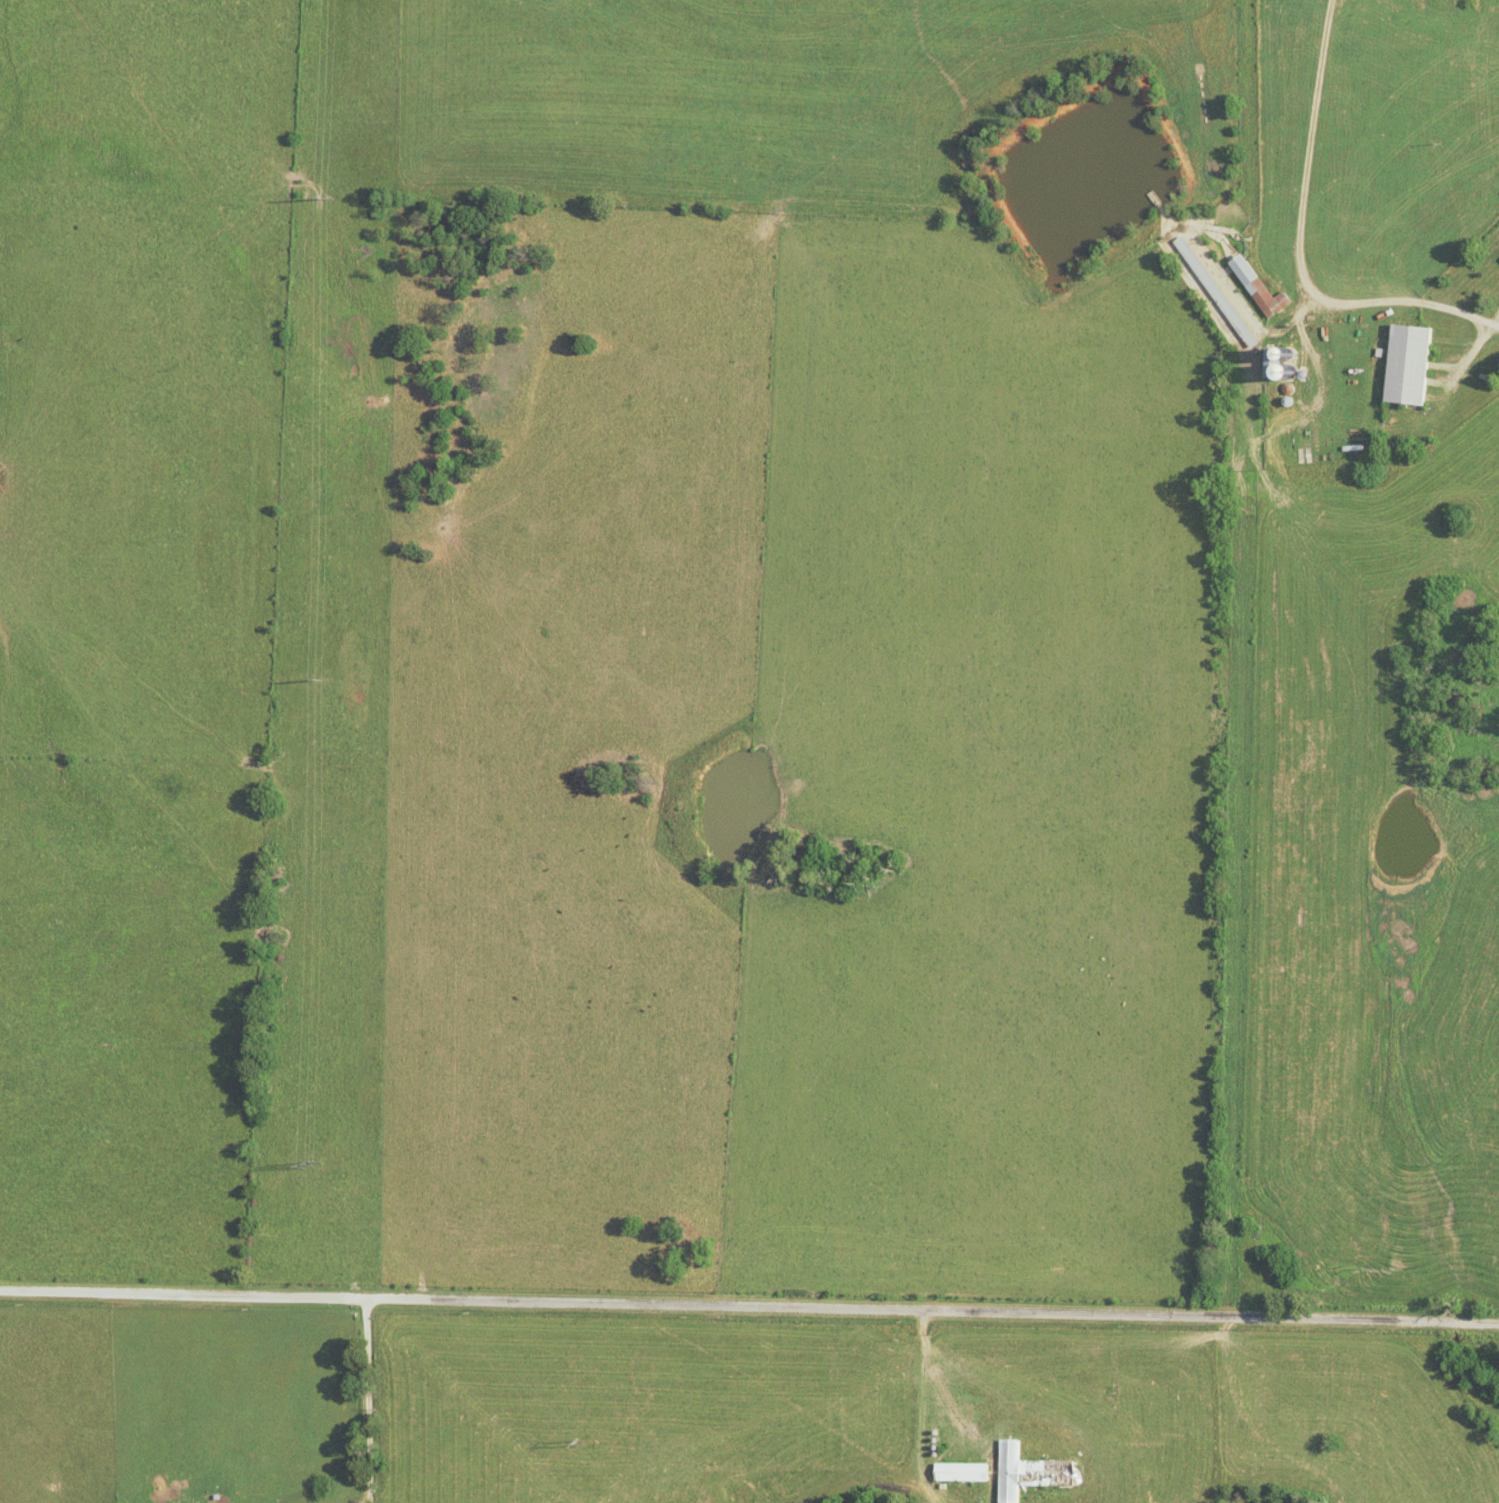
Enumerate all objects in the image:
power tower: (356, 197)
building: (1257, 288)
building: (1404, 365)
power tower: (344, 683)
power tower: (310, 1165)
road: (749, 1307)
road: (354, 1400)
power tower: (582, 1444)
building: (958, 1472)
building: (1027, 1472)

